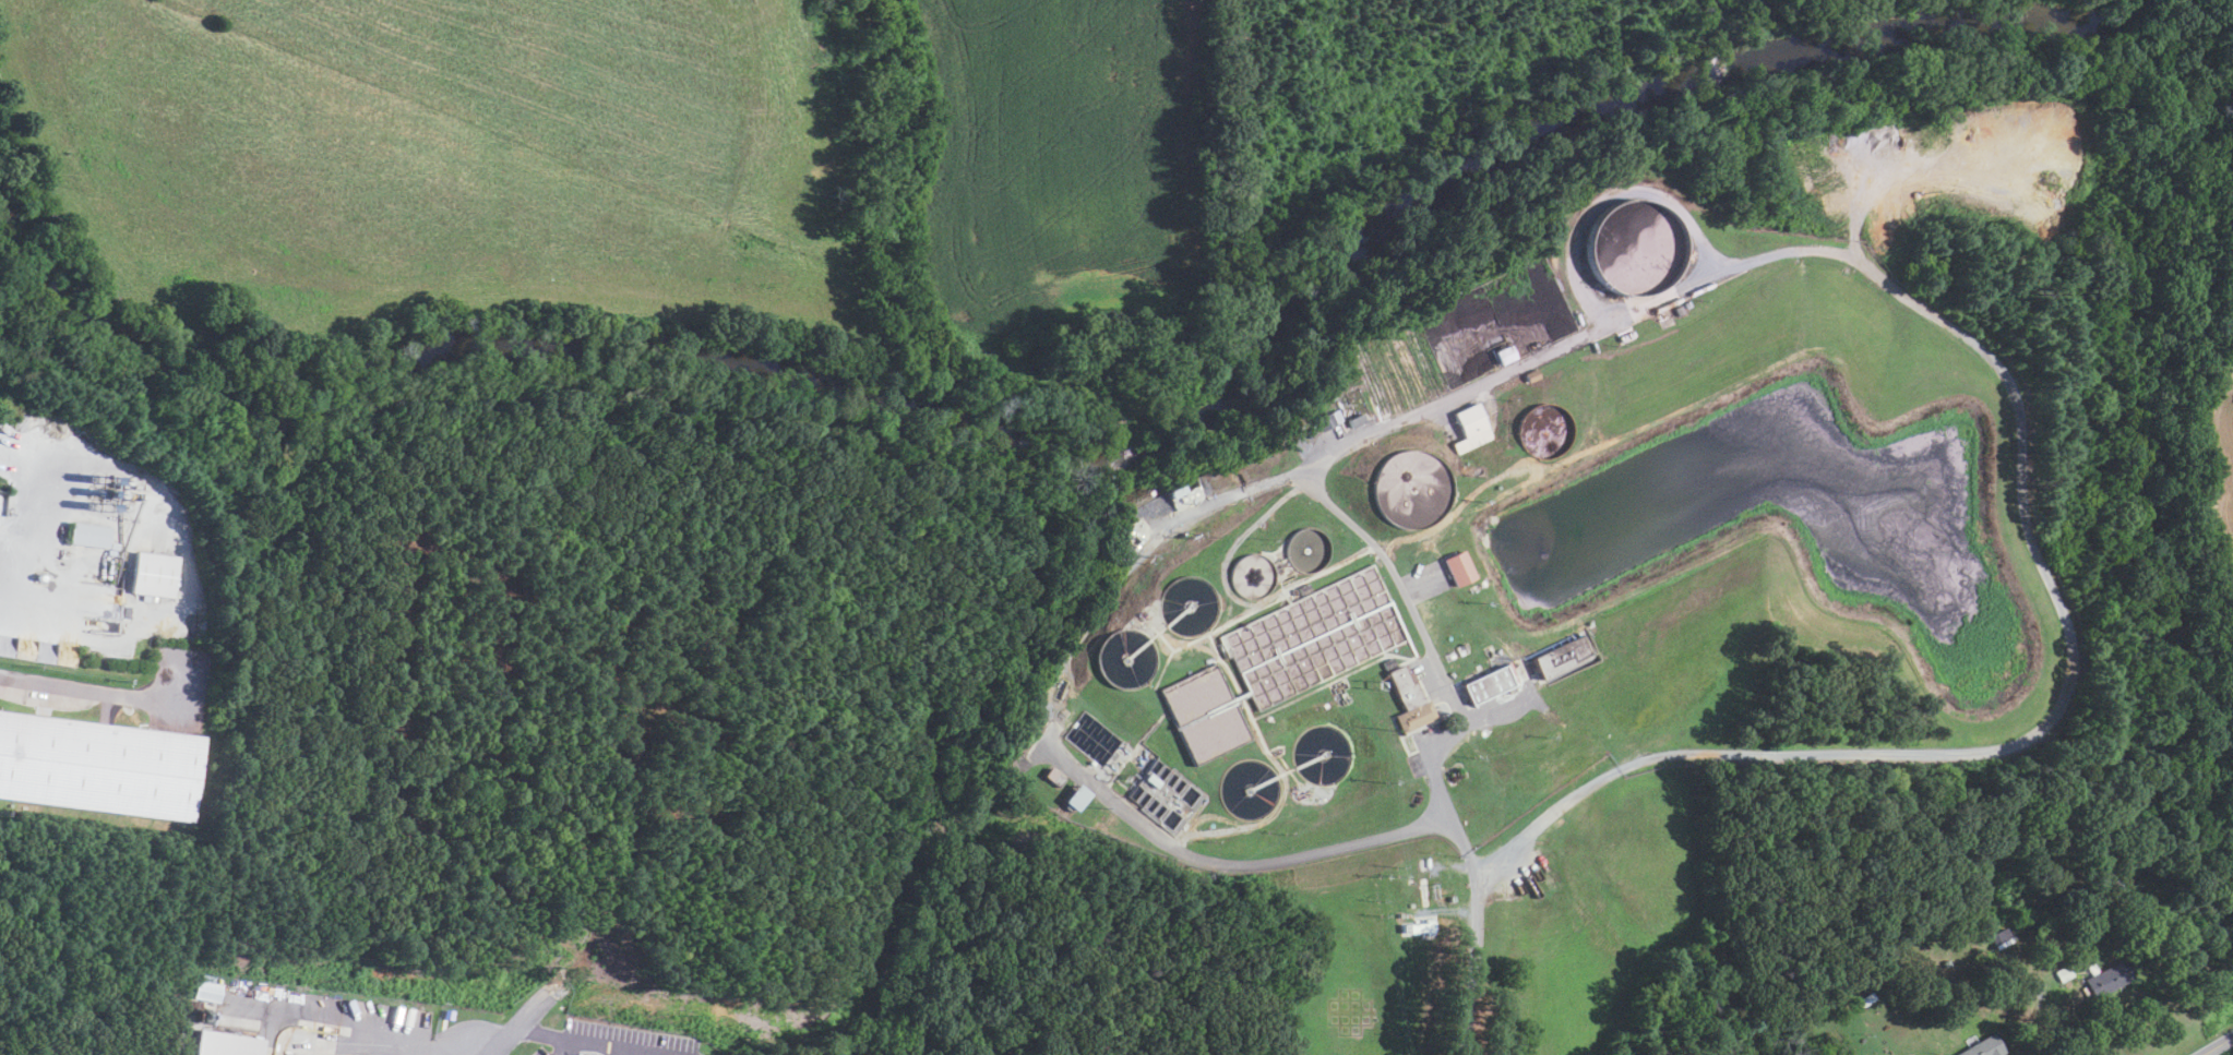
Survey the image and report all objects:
building: (1500, 355)
building: (1326, 419)
building: (1353, 420)
building: (1471, 427)
road: (2018, 469)
building: (2, 501)
building: (89, 536)
wastewater plant: (1572, 552)
road: (1144, 554)
building: (1458, 567)
building: (155, 575)
road: (34, 619)
building: (1560, 656)
building: (1488, 683)
road: (80, 684)
building: (1408, 698)
building: (99, 767)
building: (1049, 777)
building: (1162, 796)
building: (1072, 798)
building: (2103, 888)
building: (2079, 901)
building: (2049, 922)
building: (1414, 926)
building: (1997, 937)
building: (1944, 962)
road: (1472, 964)
building: (2061, 972)
building: (2106, 976)
building: (208, 990)
building: (1863, 999)
road: (2035, 1019)
road: (366, 1029)
road: (513, 1029)
parking lot: (613, 1041)
building: (229, 1043)
road: (595, 1043)
road: (2218, 1045)
building: (1979, 1046)
road: (564, 1047)
road: (399, 1048)
road: (622, 1052)
road: (669, 1054)

